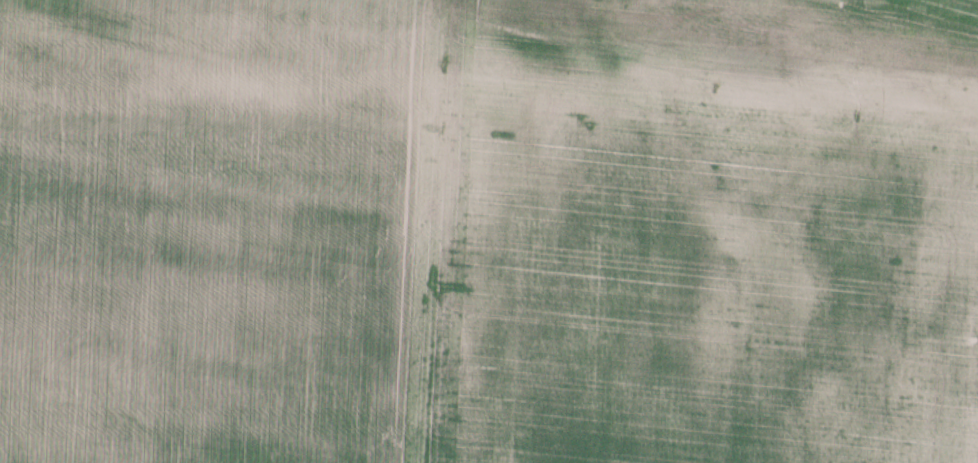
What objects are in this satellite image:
crop: (702, 233)

